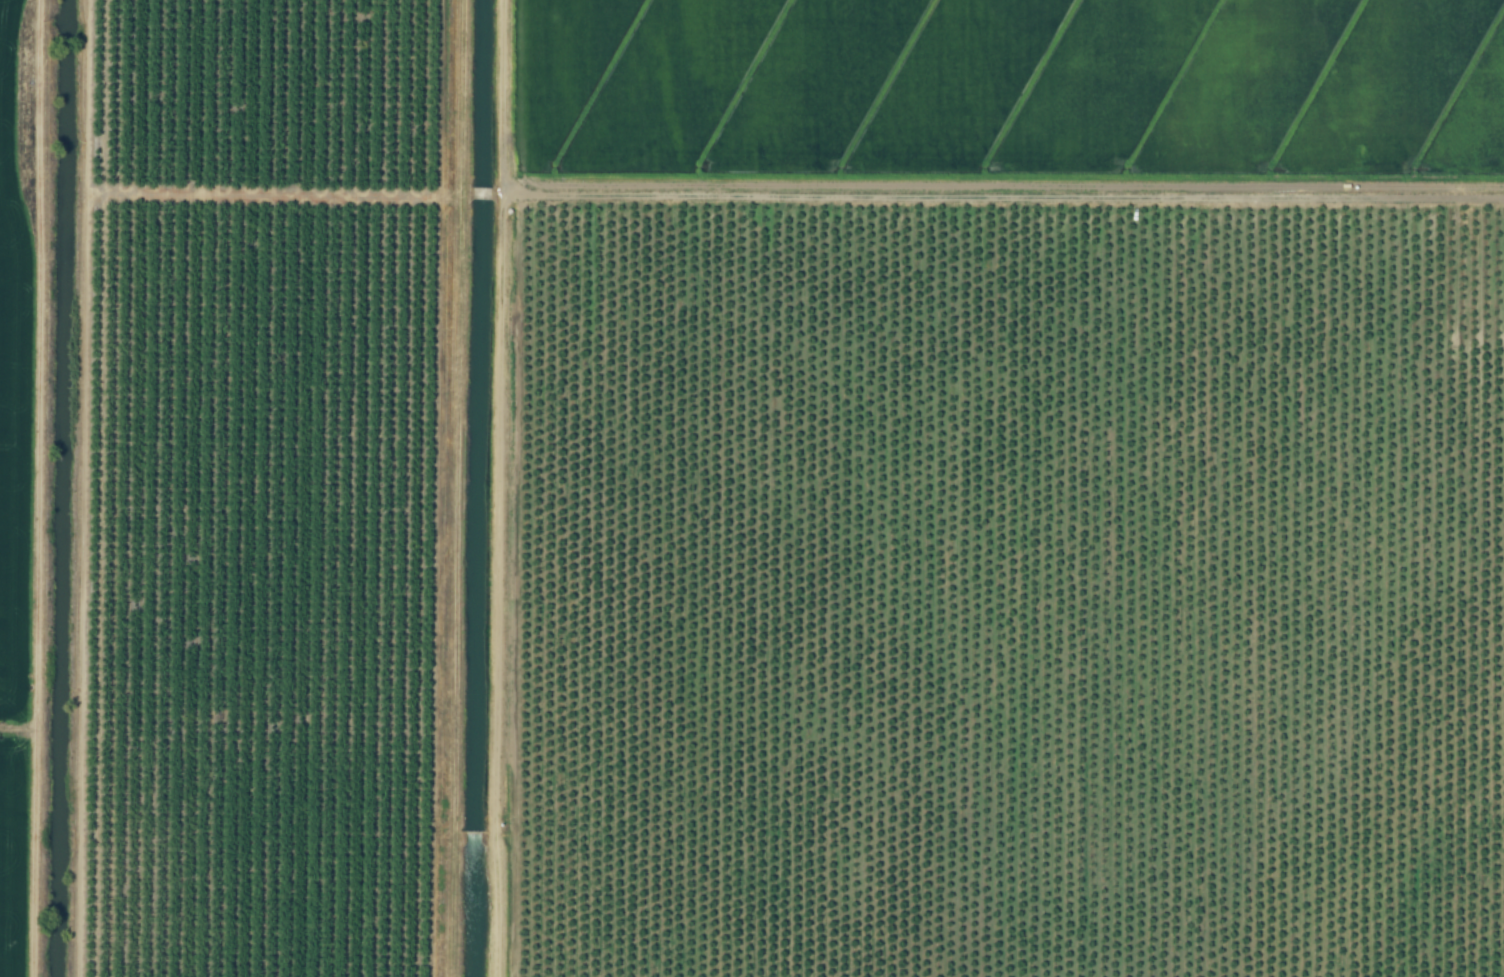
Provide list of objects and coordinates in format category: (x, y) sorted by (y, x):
road: (36, 488)
crop: (12, 853)

